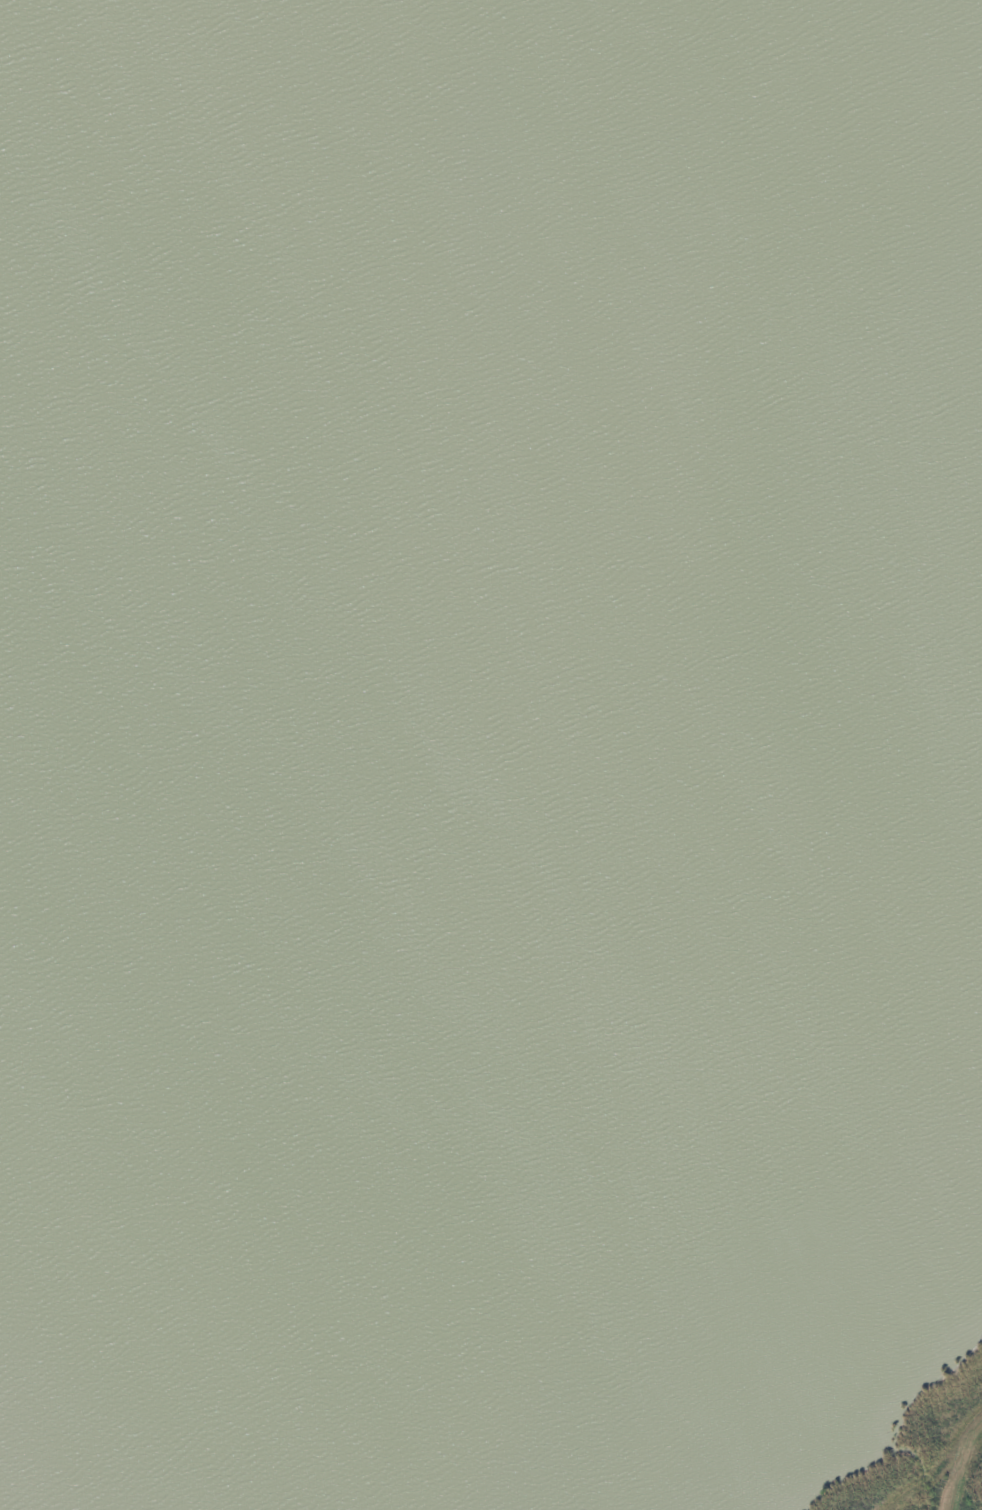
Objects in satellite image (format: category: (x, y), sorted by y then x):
road: (926, 1464)

